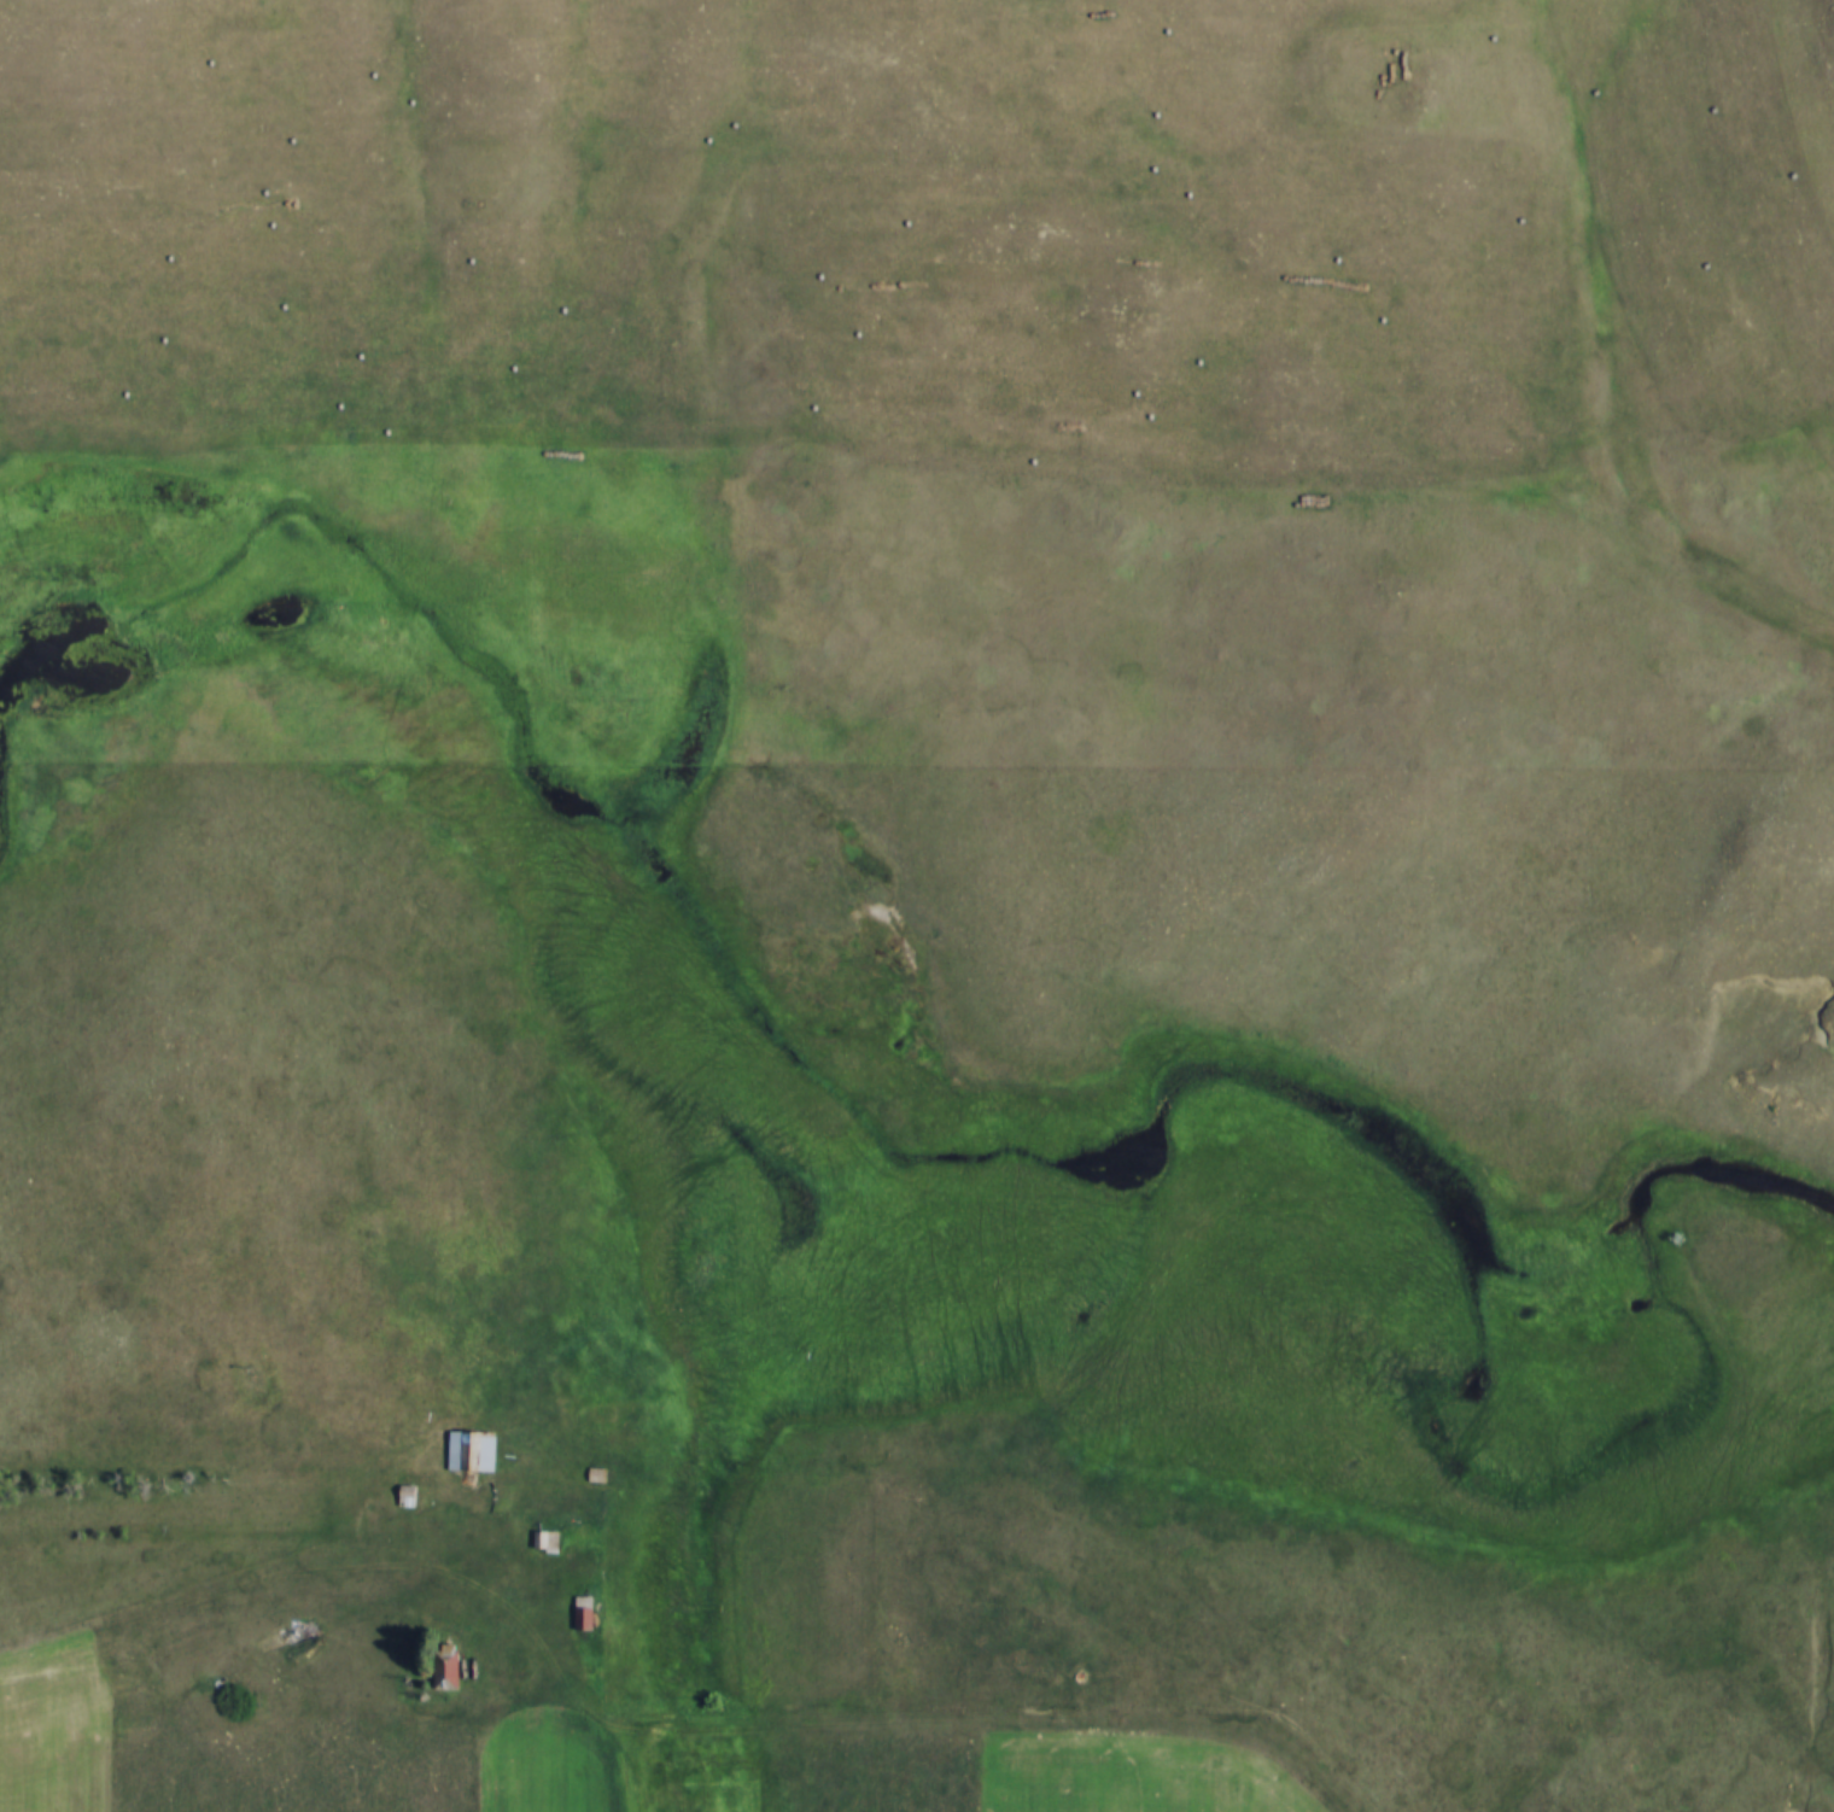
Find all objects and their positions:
building: (601, 1413)
building: (469, 1449)
building: (407, 1495)
building: (544, 1539)
road: (244, 1582)
building: (579, 1612)
building: (444, 1665)
road: (1818, 1697)

